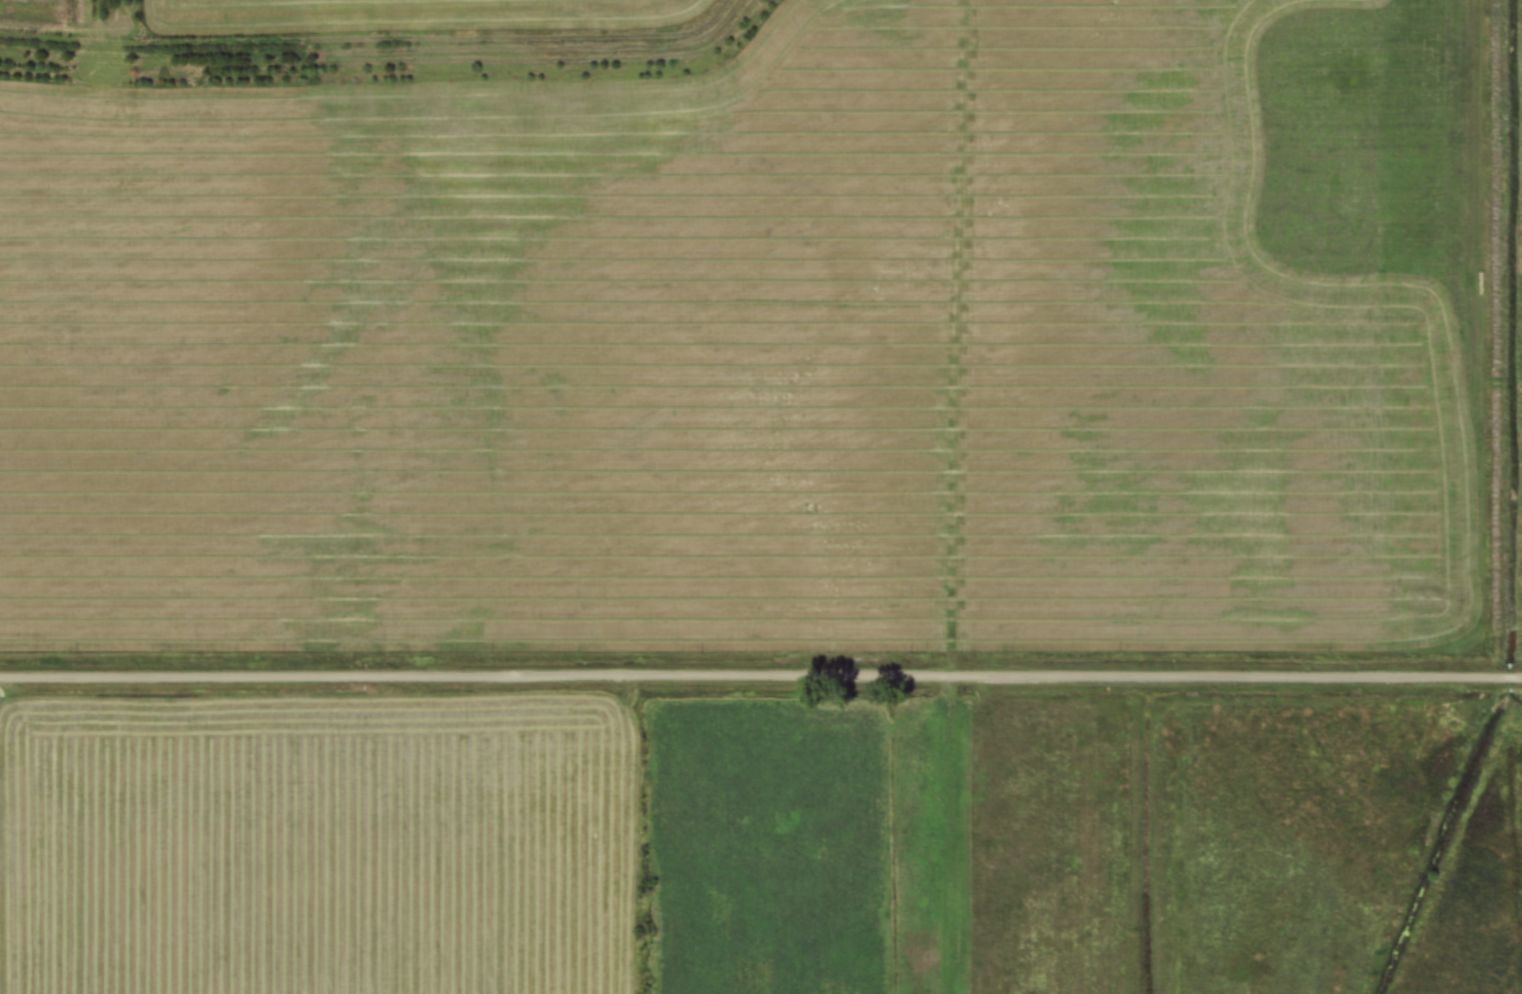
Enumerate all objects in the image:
road: (761, 676)

